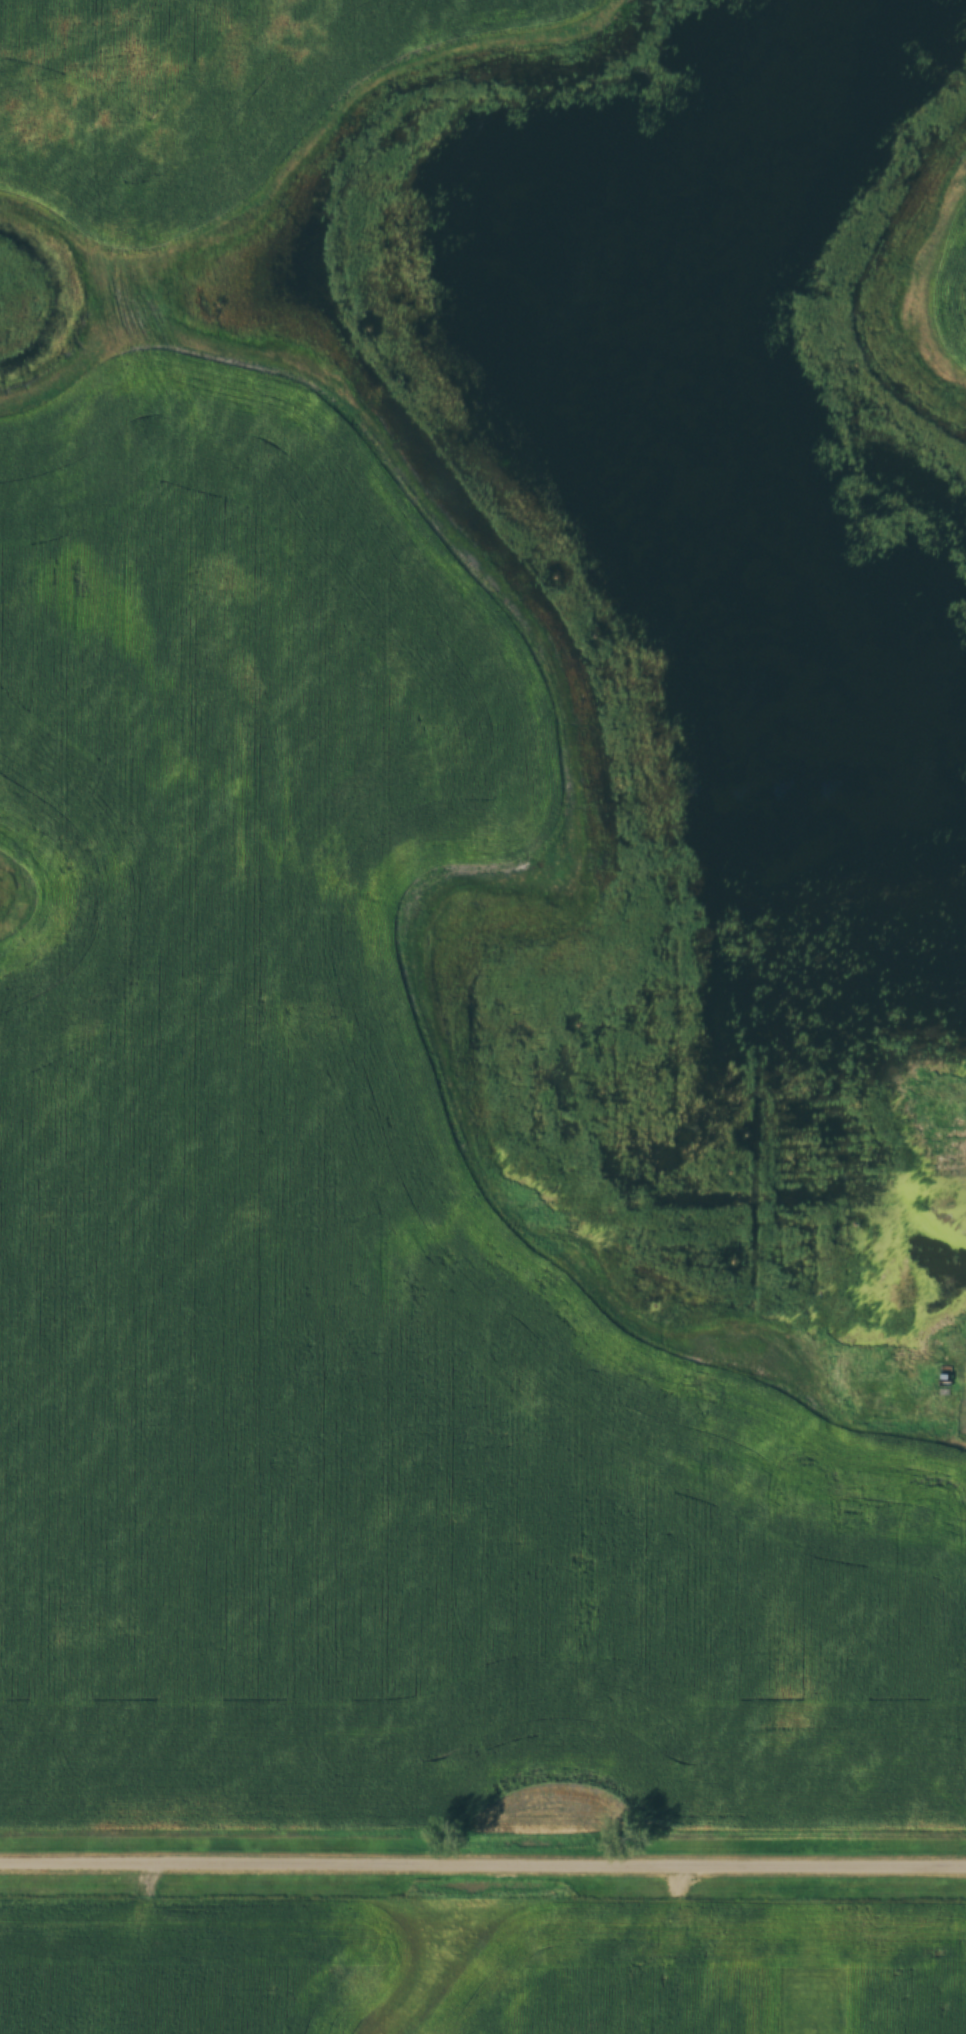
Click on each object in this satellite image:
road: (483, 1867)

